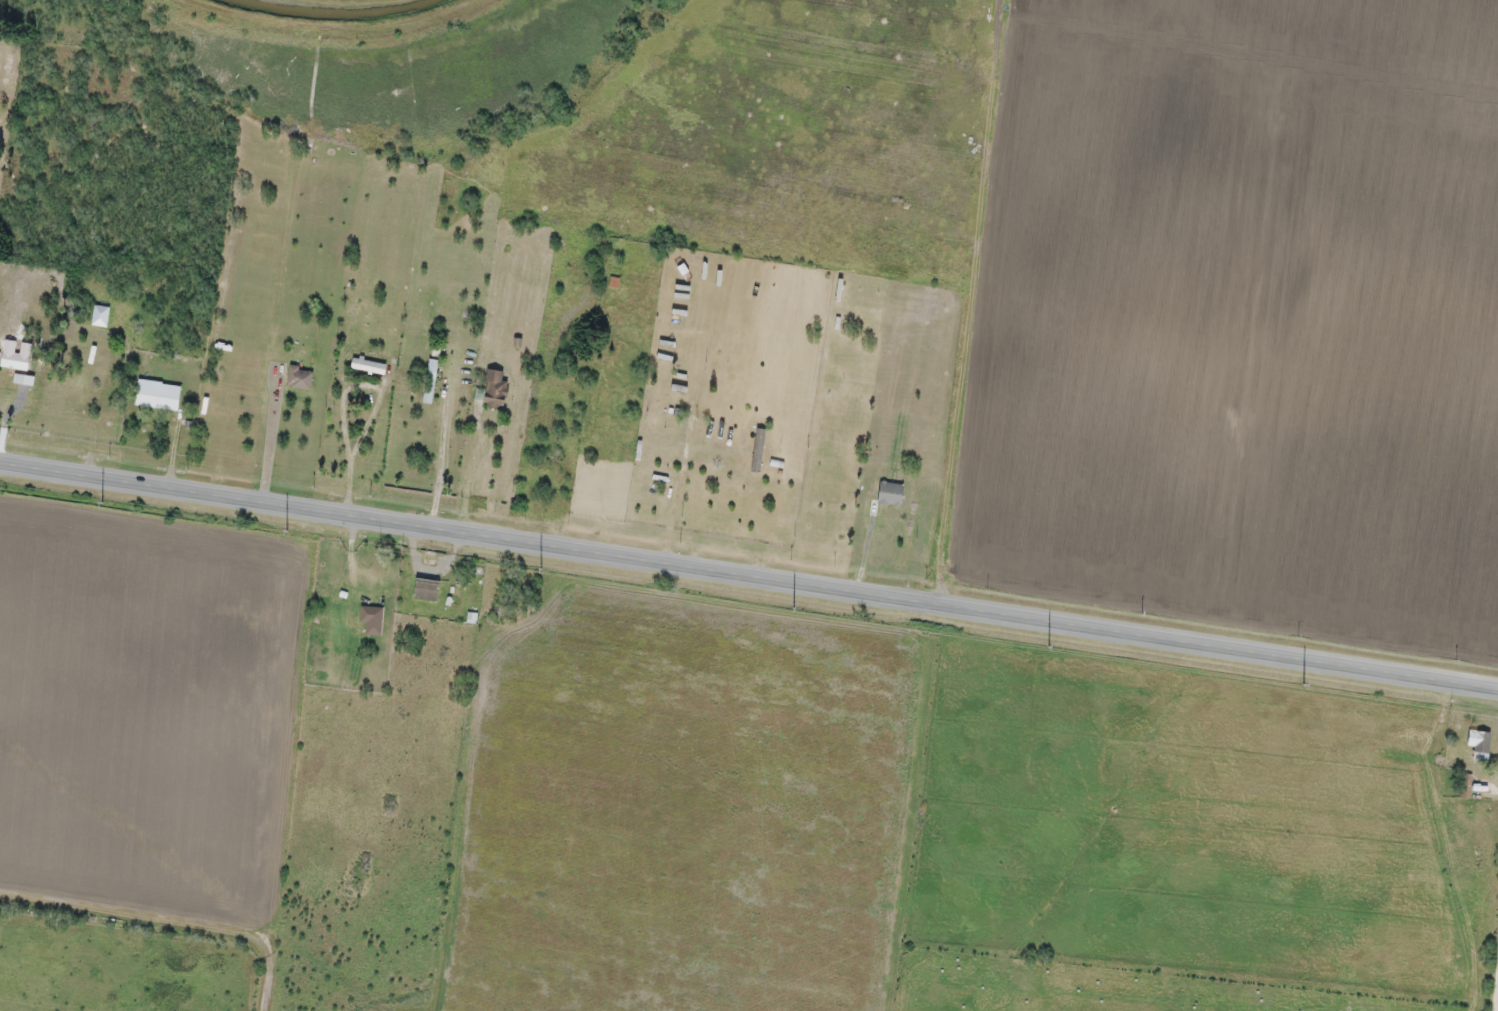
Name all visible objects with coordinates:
building: (99, 314)
building: (368, 364)
building: (299, 376)
building: (429, 379)
building: (494, 388)
building: (157, 394)
road: (965, 444)
building: (757, 449)
road: (748, 578)
building: (426, 588)
building: (371, 619)
building: (1478, 742)
building: (1463, 783)
road: (1495, 987)

